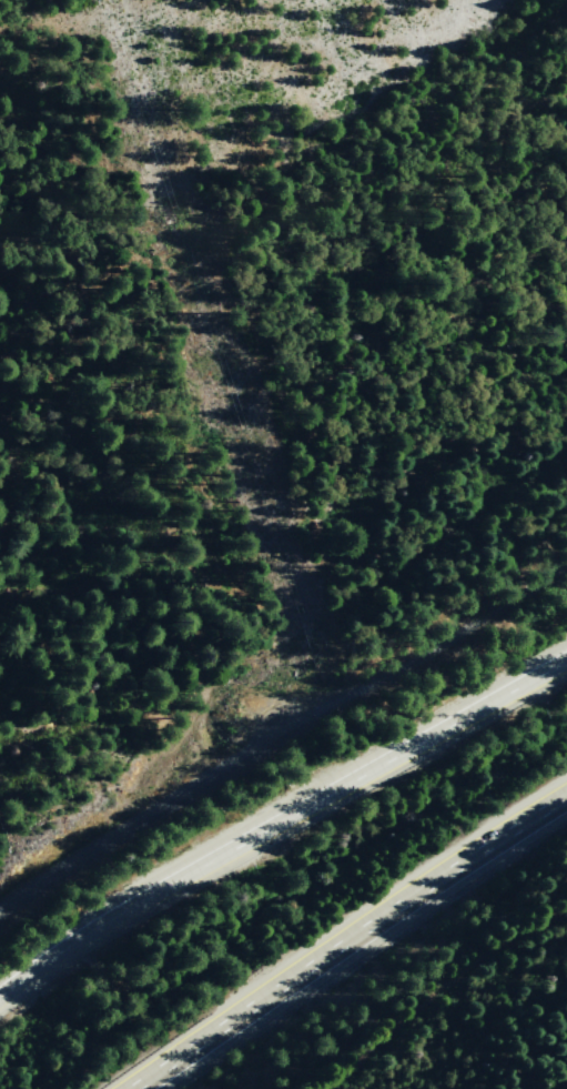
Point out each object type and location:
road: (427, 649)
road: (142, 817)
road: (280, 820)
road: (342, 936)
road: (482, 1063)

